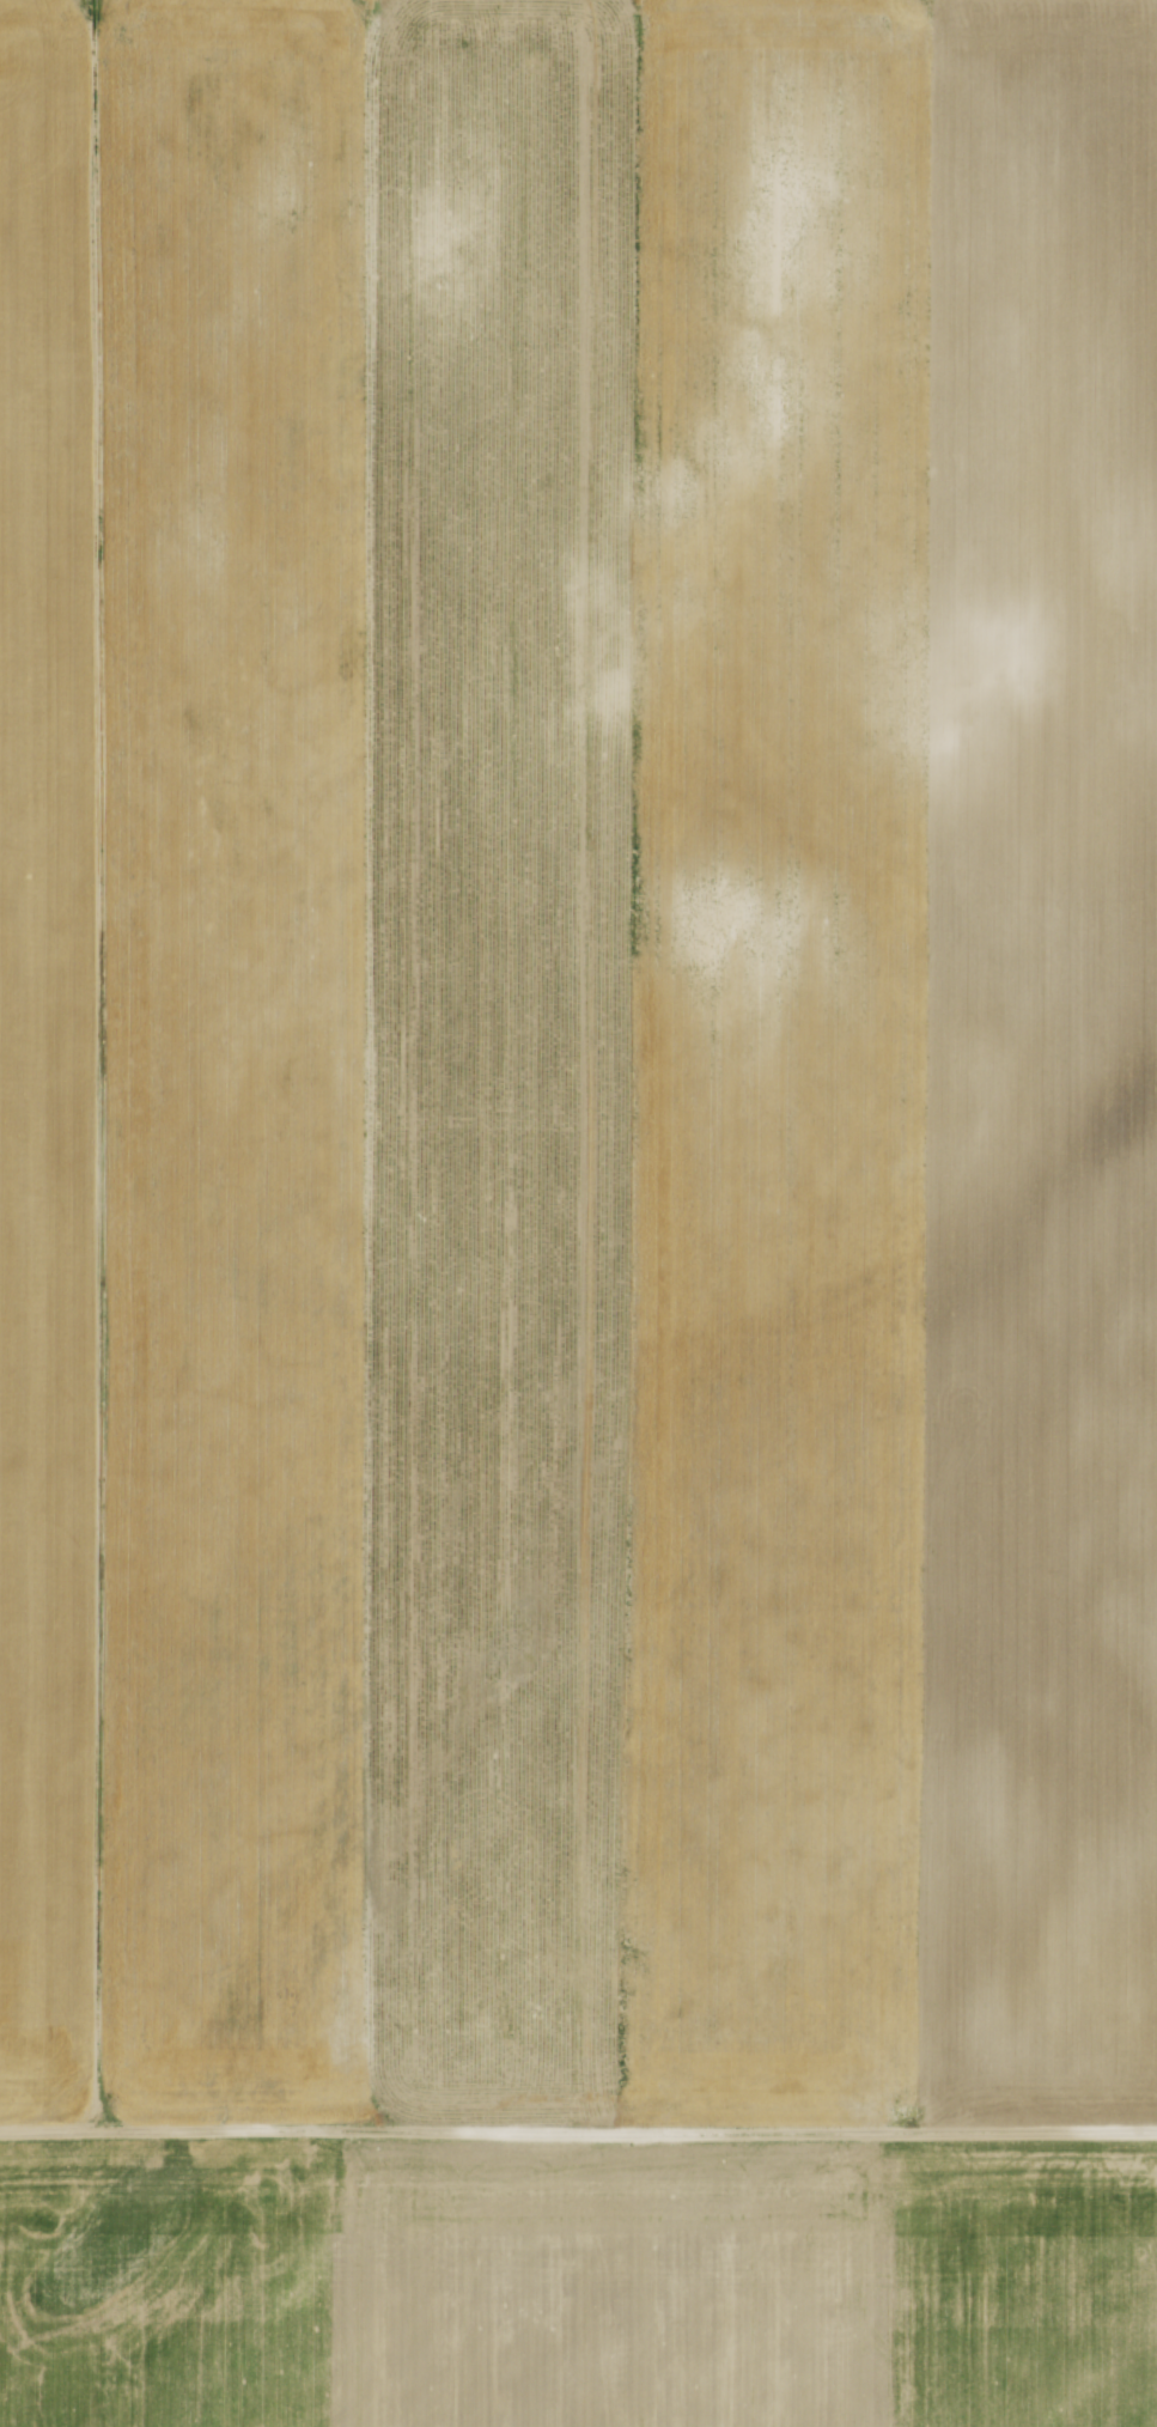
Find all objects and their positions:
road: (578, 2133)

